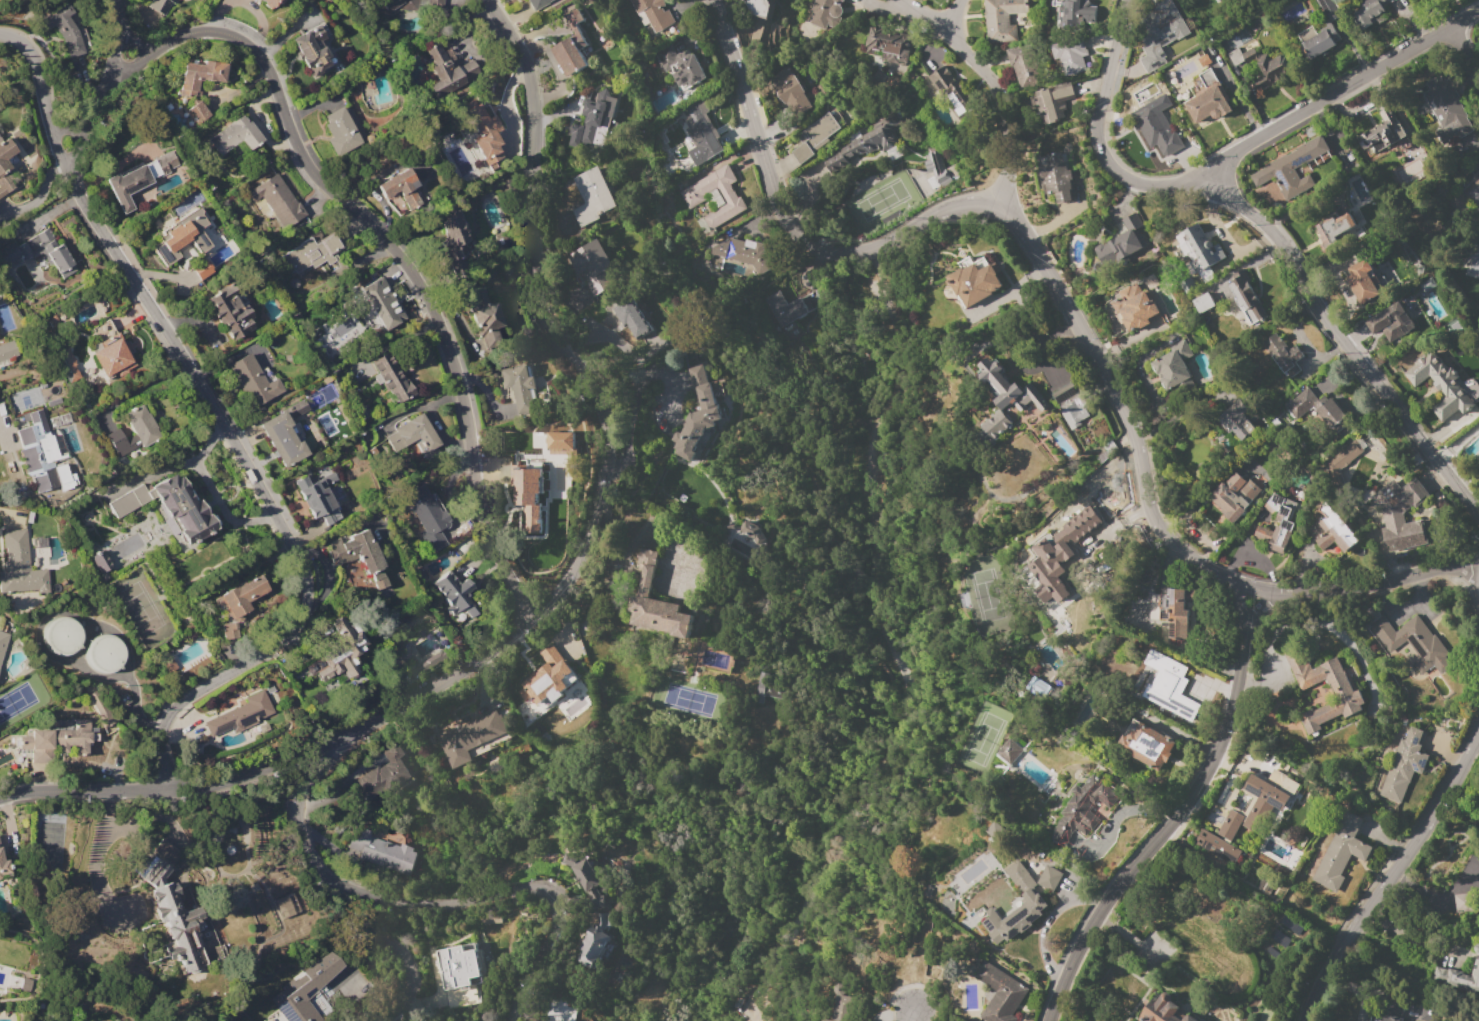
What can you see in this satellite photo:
building: (0, 0)
building: (841, 0)
building: (272, 2)
building: (433, 3)
building: (537, 3)
building: (161, 5)
building: (396, 6)
building: (1079, 11)
building: (1368, 12)
building: (823, 13)
building: (651, 15)
road: (919, 15)
building: (1002, 19)
road: (118, 21)
building: (64, 29)
building: (1322, 32)
building: (1152, 39)
road: (137, 42)
building: (889, 45)
road: (1113, 45)
building: (571, 47)
building: (313, 49)
building: (1241, 55)
building: (1071, 56)
road: (1463, 60)
building: (681, 67)
building: (1017, 67)
building: (445, 70)
building: (1272, 70)
building: (200, 75)
building: (945, 82)
building: (789, 93)
road: (1344, 96)
building: (1208, 99)
road: (991, 100)
building: (1054, 100)
building: (1446, 110)
road: (94, 112)
building: (198, 112)
building: (589, 121)
road: (71, 122)
building: (1157, 126)
building: (341, 131)
building: (700, 131)
building: (1382, 133)
building: (484, 134)
building: (817, 134)
building: (236, 135)
building: (863, 143)
building: (5, 166)
building: (1289, 170)
building: (1057, 178)
building: (139, 179)
building: (400, 188)
building: (1473, 193)
building: (592, 196)
building: (693, 197)
building: (278, 199)
road: (1002, 212)
building: (452, 229)
building: (1334, 229)
building: (181, 236)
building: (1121, 244)
building: (1198, 249)
building: (40, 251)
building: (311, 254)
building: (747, 255)
road: (401, 262)
building: (590, 265)
road: (1296, 267)
building: (201, 268)
building: (974, 281)
building: (1362, 281)
building: (1186, 285)
building: (1246, 297)
building: (382, 302)
building: (1203, 302)
building: (787, 308)
building: (1134, 308)
building: (231, 310)
building: (485, 316)
building: (633, 318)
building: (1394, 319)
building: (7, 349)
building: (1281, 355)
building: (111, 357)
building: (1173, 366)
building: (68, 367)
building: (392, 377)
building: (252, 379)
building: (998, 384)
building: (1442, 385)
road: (141, 386)
building: (520, 388)
building: (1065, 394)
building: (1029, 400)
building: (1317, 410)
building: (697, 414)
road: (601, 415)
building: (1073, 415)
road: (221, 420)
building: (1236, 421)
building: (141, 425)
building: (995, 425)
building: (285, 434)
building: (416, 436)
building: (558, 440)
building: (117, 441)
building: (38, 452)
road: (8, 453)
road: (1077, 455)
building: (1343, 457)
road: (172, 465)
road: (1102, 479)
building: (316, 494)
building: (528, 496)
building: (1236, 496)
building: (170, 507)
road: (222, 511)
building: (429, 514)
building: (1400, 515)
road: (1115, 521)
building: (1074, 524)
building: (1286, 524)
building: (1331, 530)
building: (751, 531)
building: (358, 555)
building: (100, 561)
building: (20, 566)
building: (1051, 572)
building: (454, 594)
building: (239, 603)
building: (657, 604)
building: (1176, 611)
building: (61, 635)
water tower: (60, 637)
building: (3, 642)
building: (1413, 643)
building: (348, 646)
building: (103, 651)
water tower: (106, 656)
building: (545, 678)
building: (1166, 685)
building: (1037, 687)
building: (767, 689)
building: (1347, 696)
building: (242, 713)
road: (1228, 713)
road: (1478, 735)
building: (472, 738)
building: (55, 741)
building: (1147, 746)
building: (1009, 752)
building: (1403, 765)
building: (383, 774)
road: (176, 792)
building: (1264, 800)
building: (1082, 809)
building: (1204, 836)
building: (383, 851)
building: (1340, 852)
building: (3, 865)
building: (155, 873)
road: (1387, 874)
building: (1048, 878)
building: (585, 879)
road: (333, 882)
building: (1266, 886)
road: (519, 889)
building: (926, 892)
building: (1466, 902)
building: (287, 905)
building: (1015, 908)
building: (178, 928)
road: (1409, 935)
building: (594, 941)
building: (460, 967)
building: (1460, 977)
building: (999, 993)
building: (470, 994)
building: (297, 1003)
building: (843, 1008)
building: (1162, 1009)
building: (1388, 1009)
road: (909, 1013)
building: (823, 1020)

